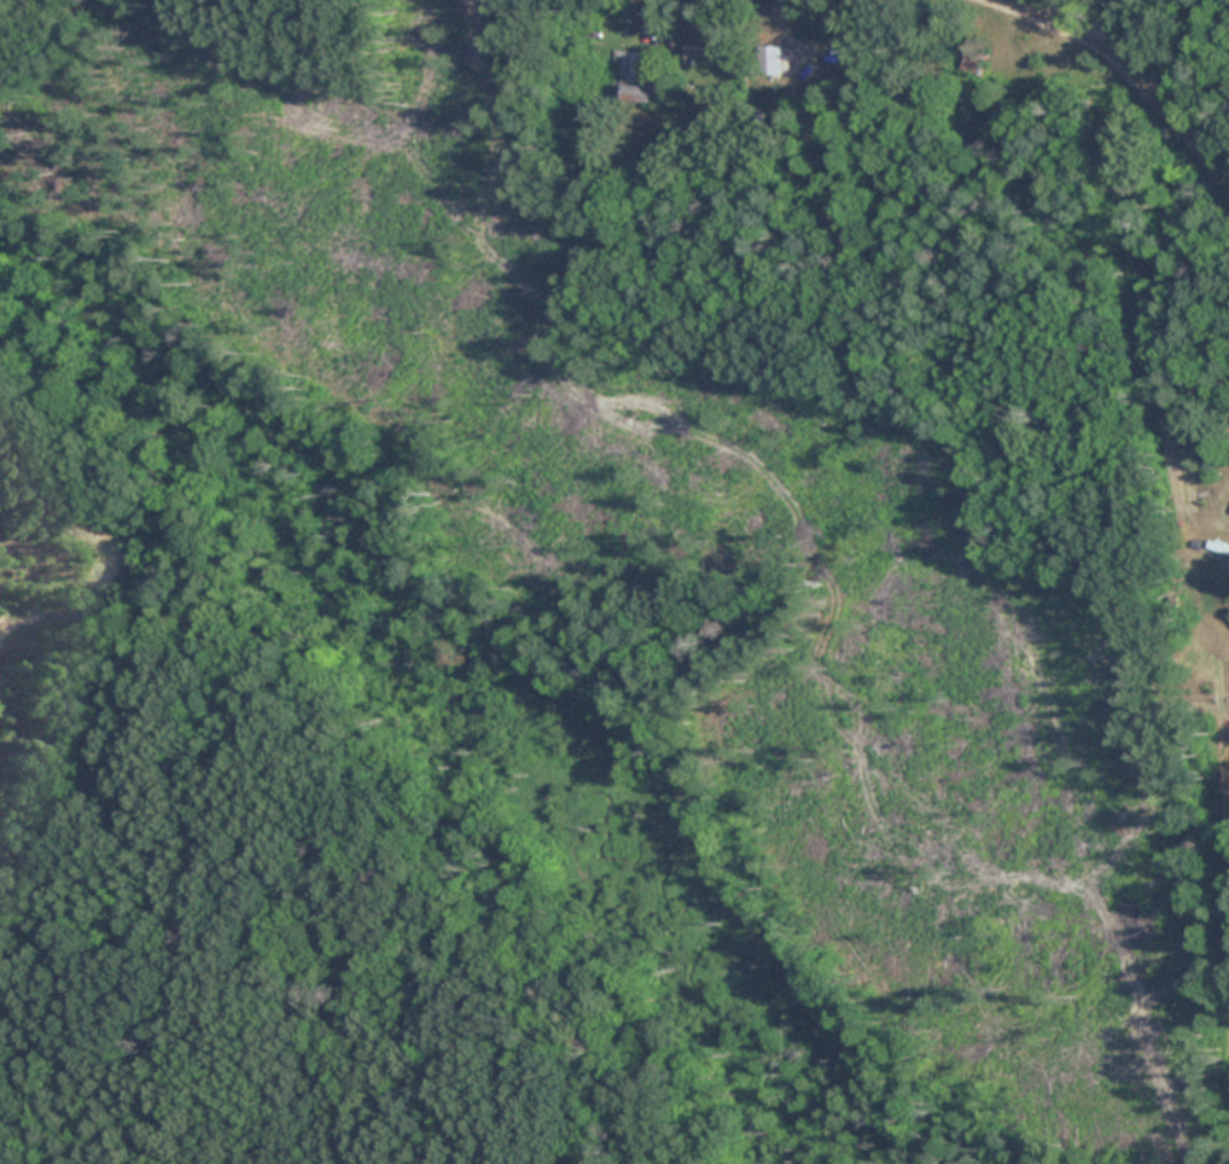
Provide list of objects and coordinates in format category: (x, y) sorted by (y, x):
road: (653, 19)
building: (701, 47)
building: (769, 59)
building: (972, 62)
road: (1123, 62)
building: (637, 75)
park: (582, 642)

